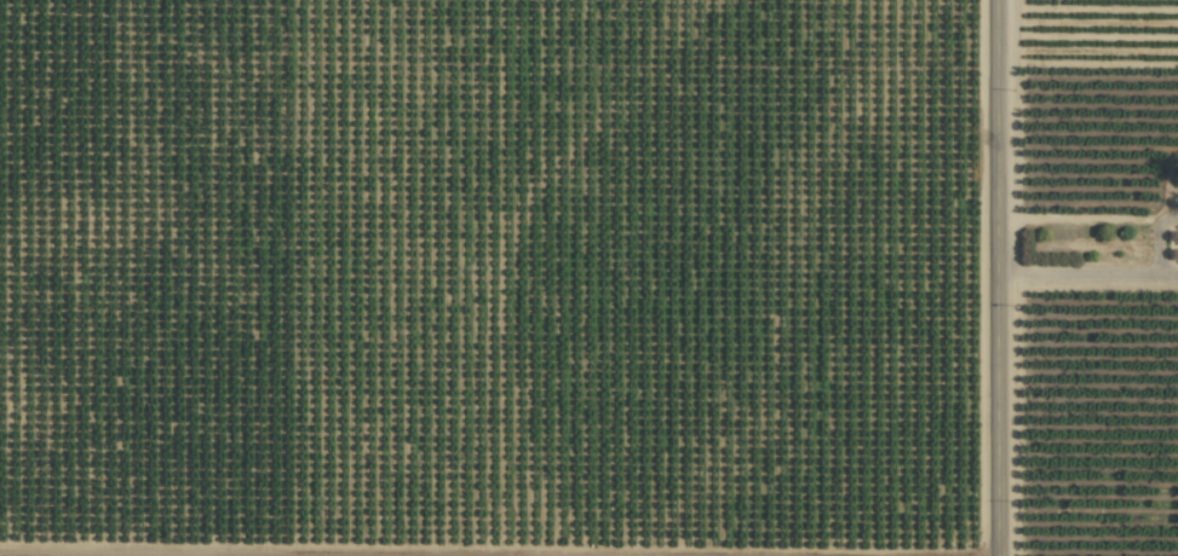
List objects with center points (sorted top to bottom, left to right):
road: (1156, 239)
road: (1078, 273)
road: (1168, 274)
road: (996, 277)

